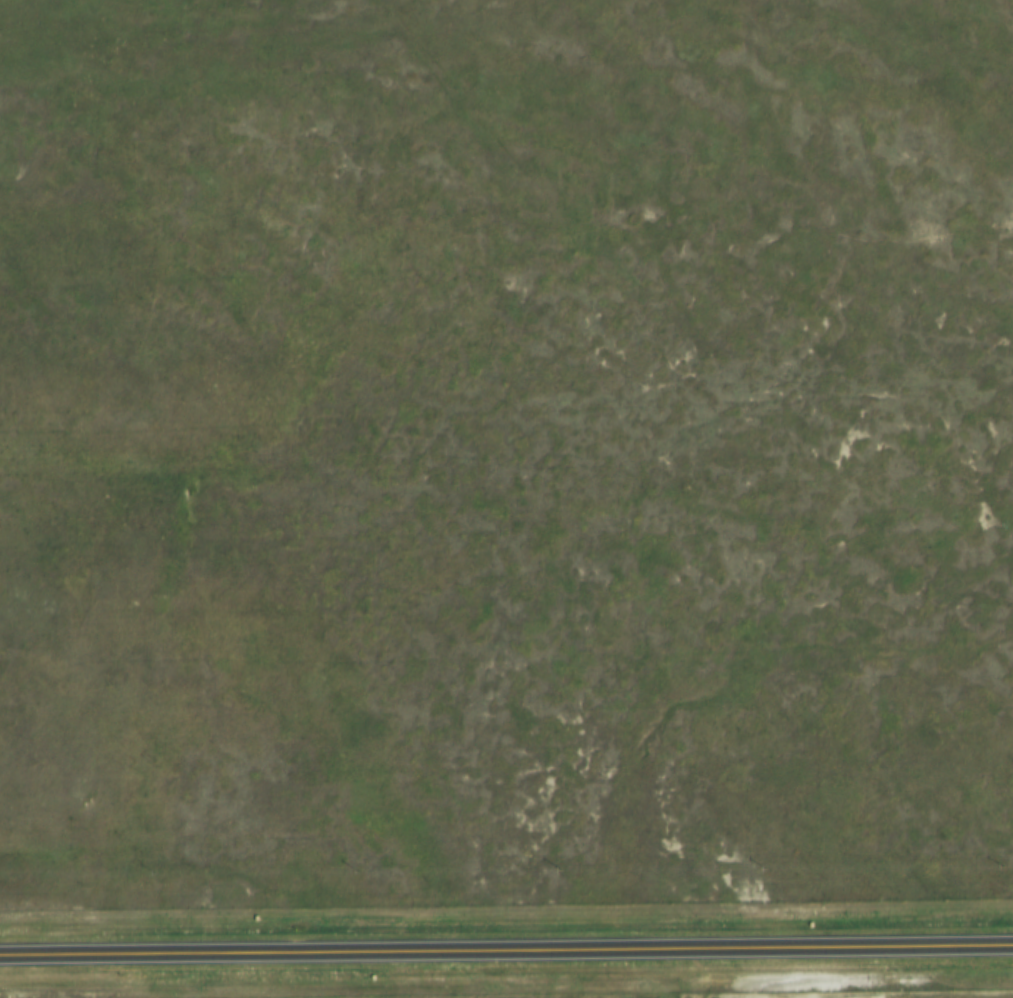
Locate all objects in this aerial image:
road: (506, 956)

